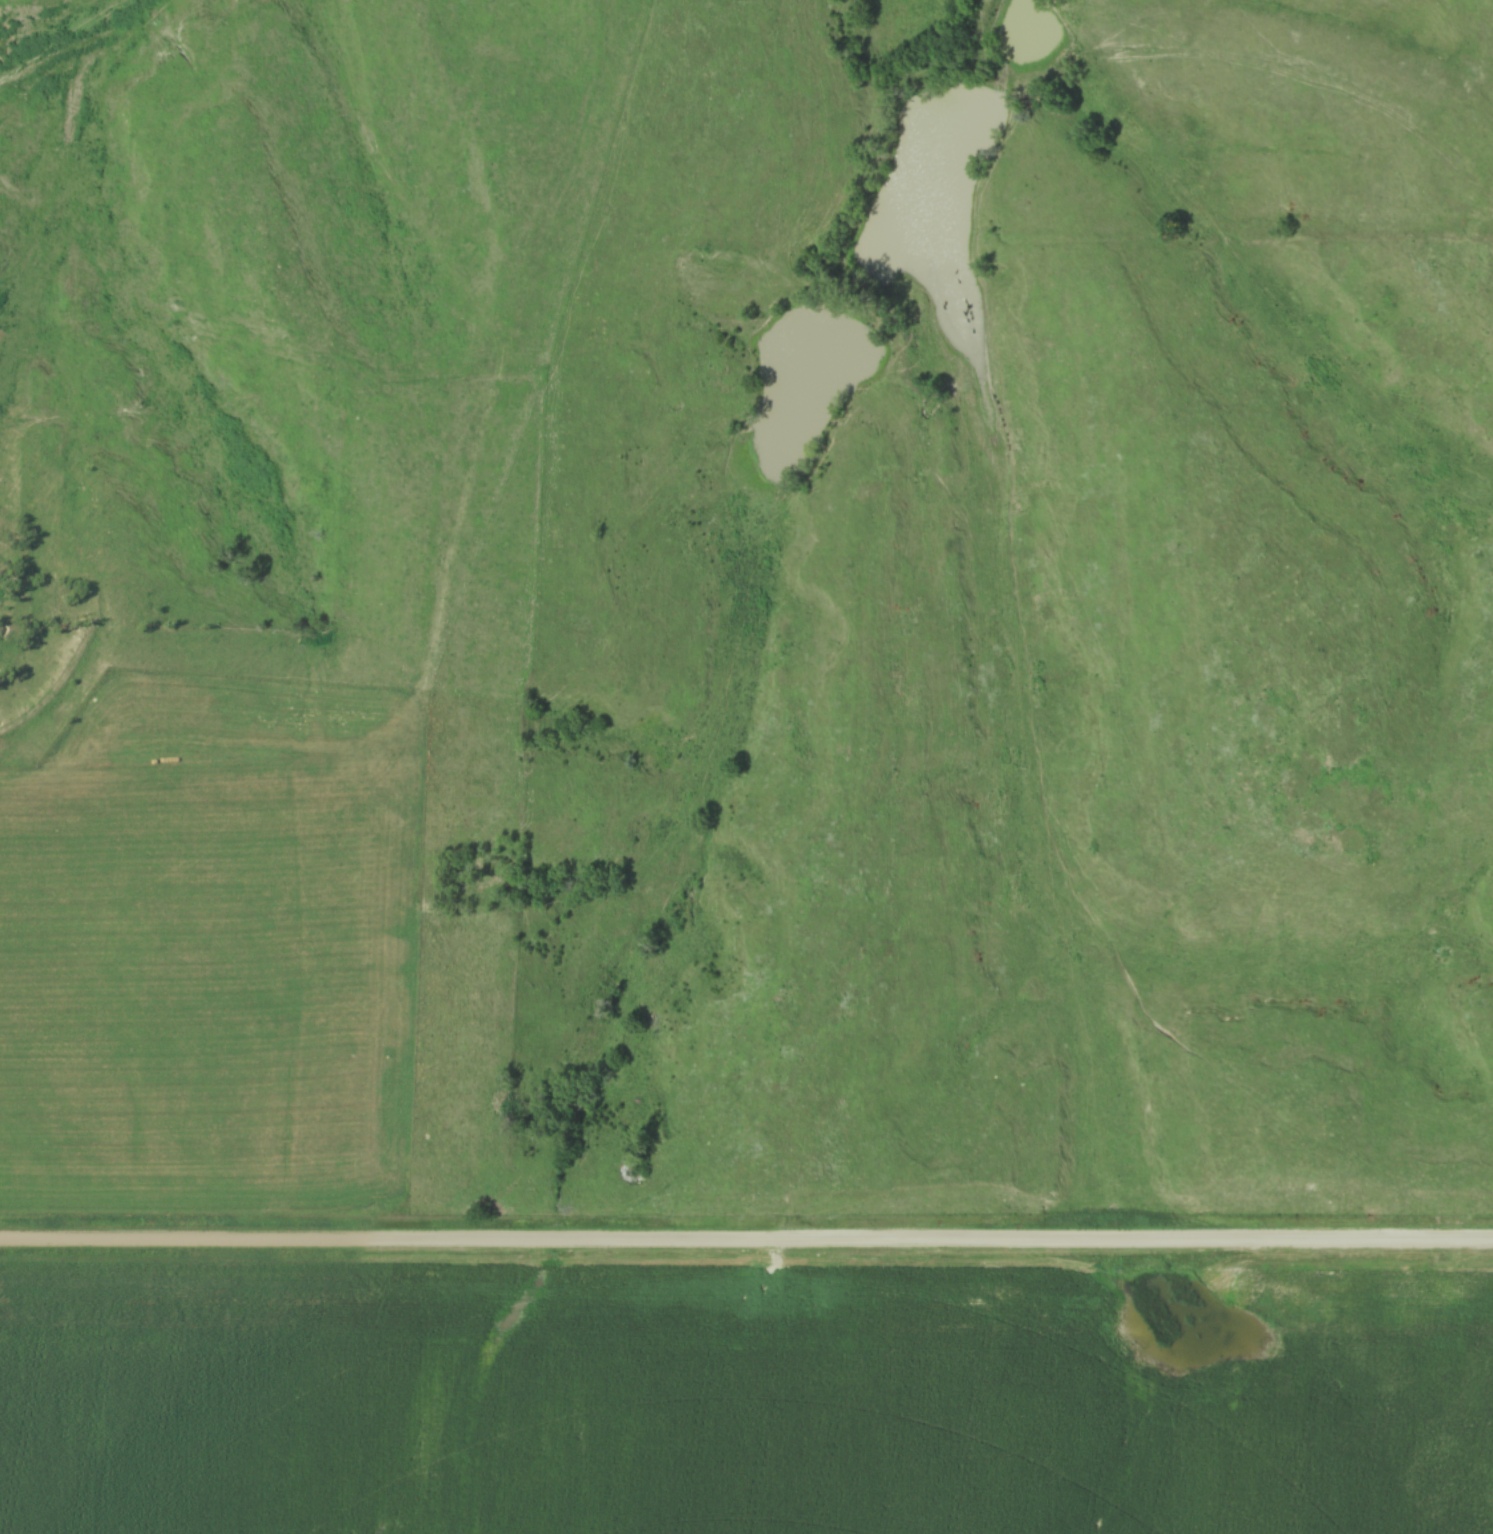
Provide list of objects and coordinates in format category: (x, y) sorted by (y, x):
road: (746, 1243)

